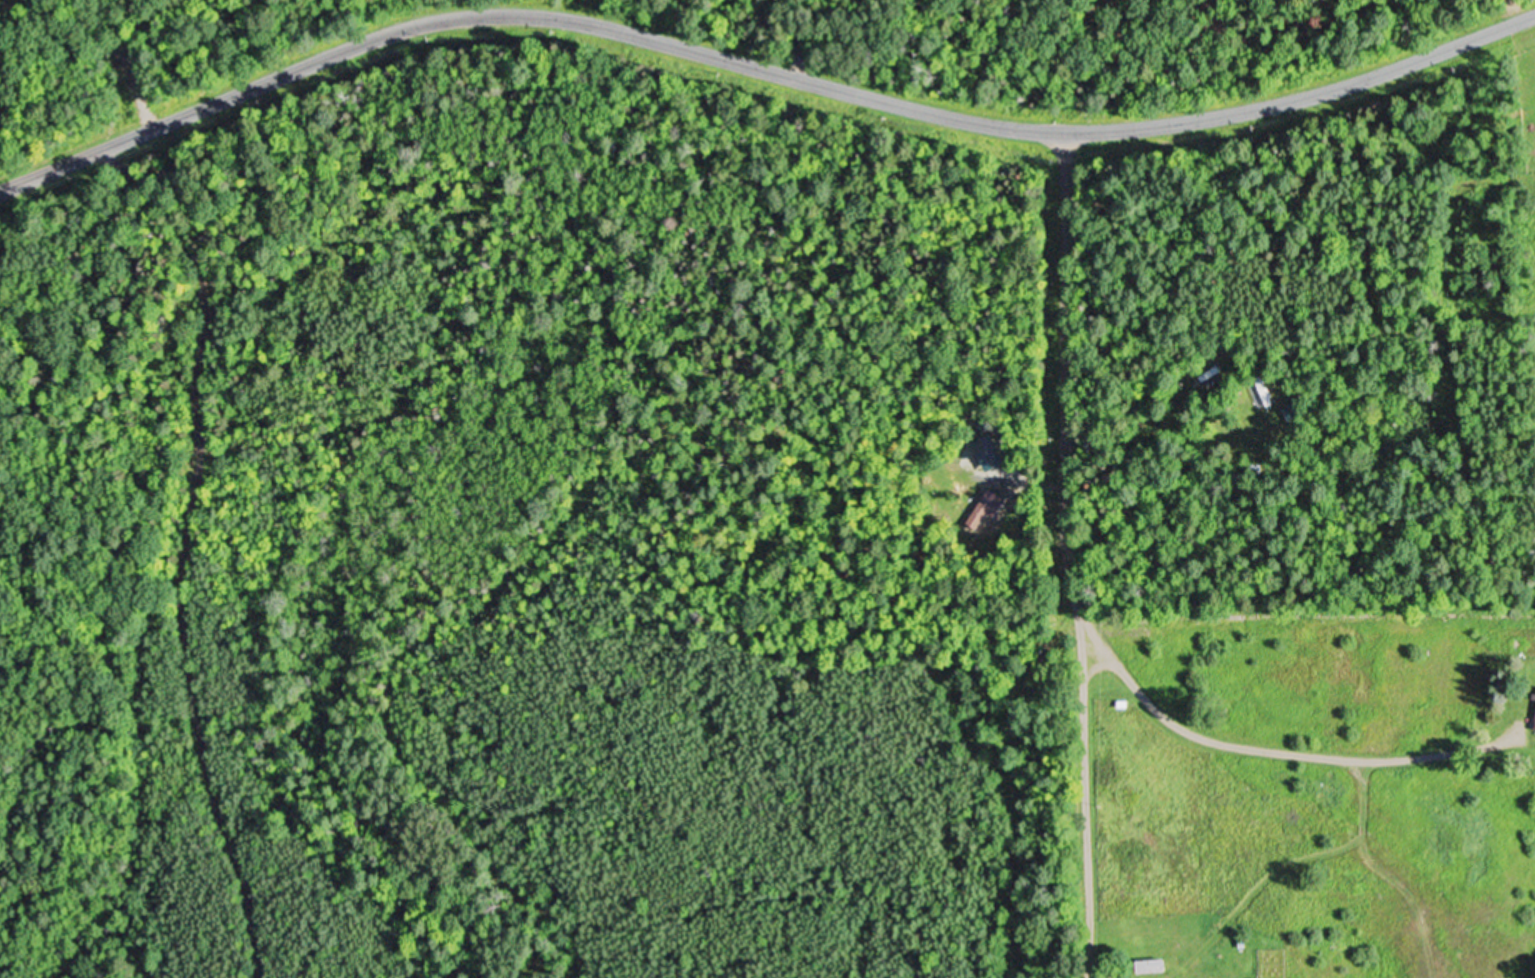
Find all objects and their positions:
road: (762, 68)
road: (181, 550)
road: (1079, 556)
road: (1268, 752)
building: (1164, 965)

